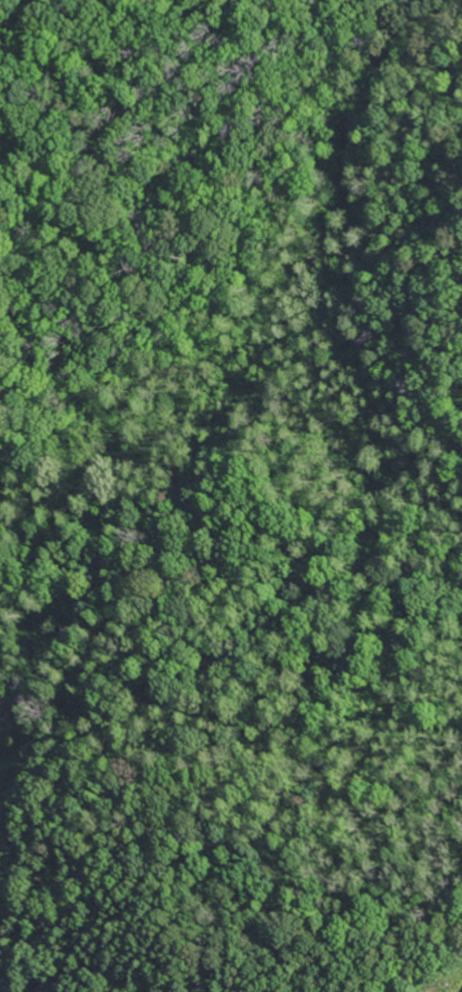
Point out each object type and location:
road: (348, 176)

